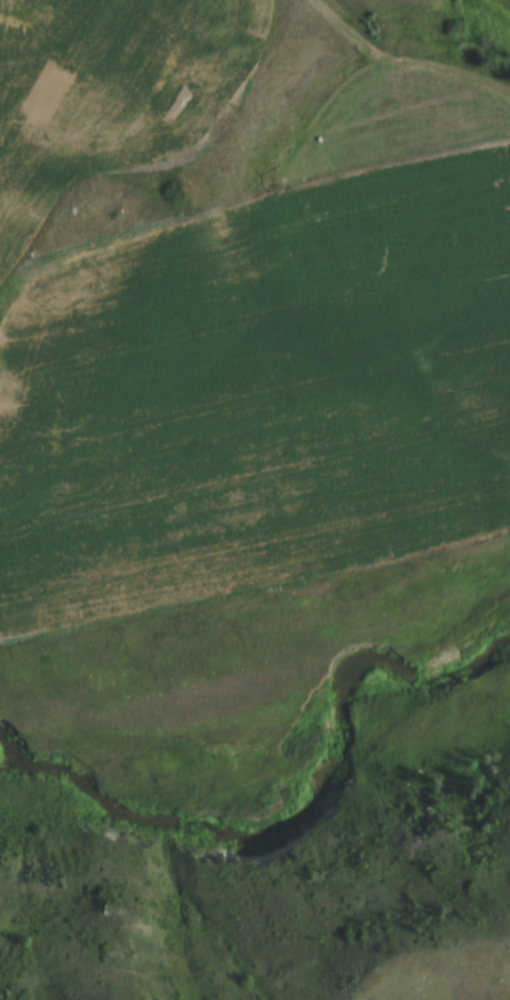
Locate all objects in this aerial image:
road: (404, 52)

